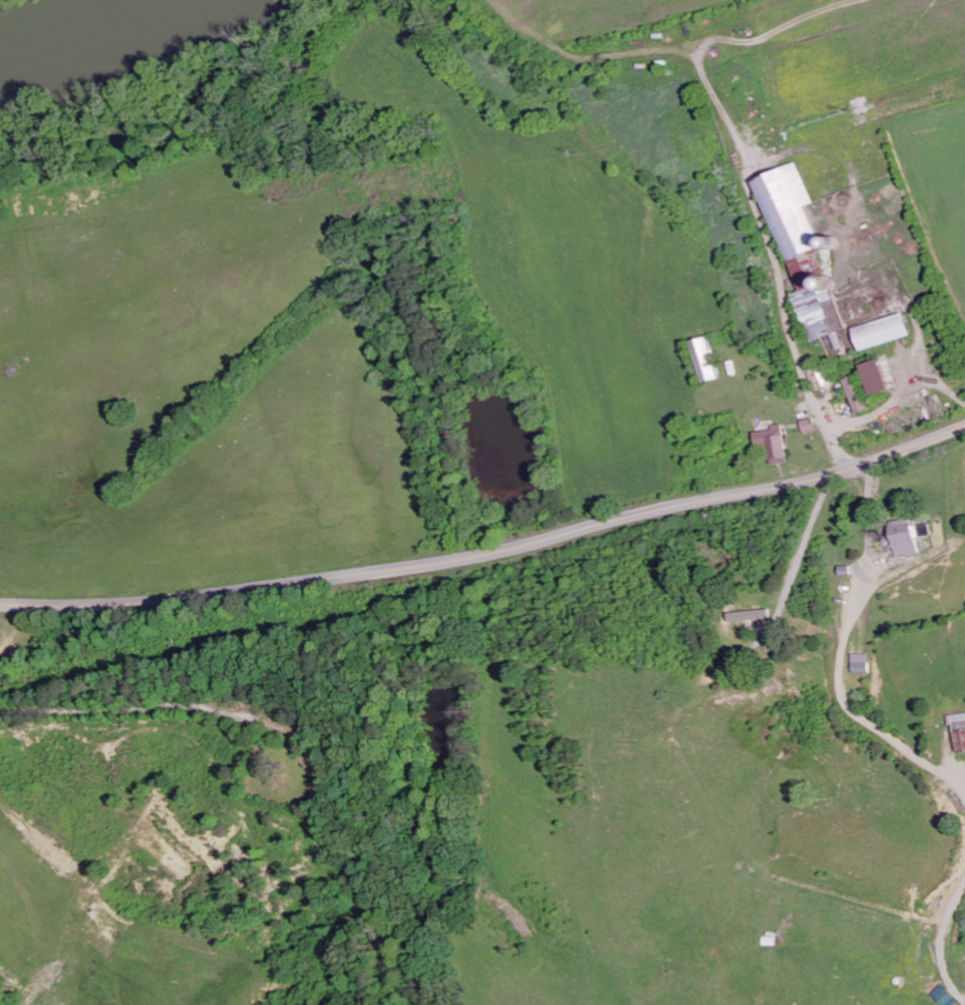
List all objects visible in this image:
river: (55, 14)
building: (801, 246)
building: (883, 332)
building: (706, 360)
building: (876, 378)
building: (773, 442)
building: (905, 538)
road: (489, 555)
road: (147, 714)
building: (962, 740)
road: (282, 798)

